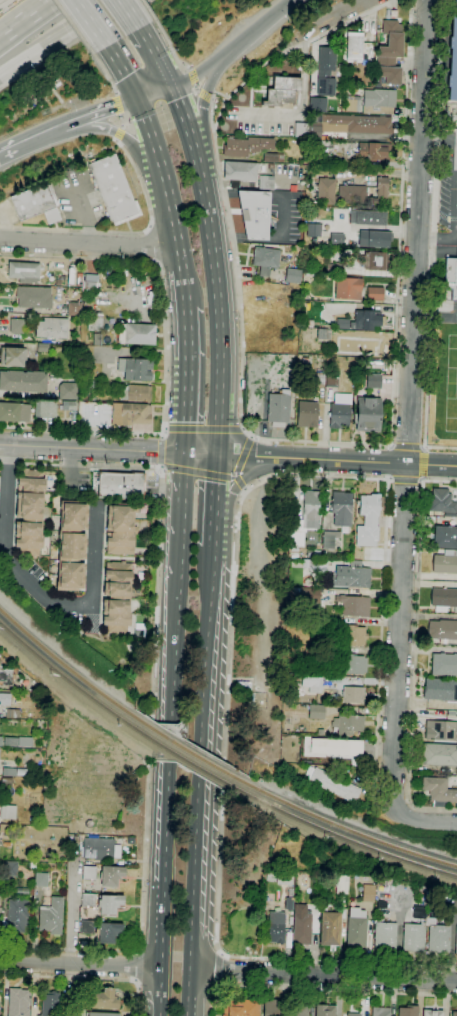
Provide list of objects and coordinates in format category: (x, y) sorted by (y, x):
road: (147, 9)
road: (130, 12)
road: (333, 14)
road: (26, 18)
road: (268, 18)
road: (349, 22)
road: (89, 23)
road: (73, 26)
road: (145, 34)
road: (62, 36)
road: (167, 44)
building: (354, 46)
building: (390, 53)
building: (453, 55)
road: (210, 63)
road: (161, 64)
road: (187, 69)
road: (122, 71)
road: (103, 72)
building: (325, 72)
road: (191, 77)
road: (211, 79)
traffic signals: (172, 86)
road: (196, 87)
building: (282, 91)
road: (154, 92)
road: (115, 93)
road: (204, 93)
road: (212, 97)
traffic signals: (137, 98)
building: (379, 101)
road: (117, 104)
building: (353, 104)
building: (318, 105)
road: (108, 107)
road: (180, 107)
road: (438, 119)
road: (73, 122)
road: (120, 122)
building: (349, 125)
building: (301, 130)
road: (118, 133)
road: (123, 137)
road: (31, 138)
road: (439, 138)
road: (116, 140)
building: (246, 146)
building: (373, 151)
building: (272, 158)
building: (240, 171)
building: (265, 183)
building: (113, 190)
parking lot: (447, 191)
building: (351, 193)
road: (168, 197)
building: (36, 203)
building: (254, 214)
building: (367, 217)
road: (444, 217)
road: (401, 223)
building: (314, 230)
road: (122, 232)
building: (336, 239)
building: (374, 239)
road: (436, 239)
road: (88, 243)
building: (265, 260)
building: (374, 261)
building: (334, 268)
building: (24, 272)
building: (293, 276)
building: (451, 277)
road: (237, 281)
building: (90, 282)
building: (348, 289)
road: (217, 290)
building: (375, 294)
building: (34, 297)
building: (73, 309)
building: (95, 315)
building: (367, 320)
building: (93, 323)
building: (342, 324)
building: (16, 326)
building: (51, 328)
building: (137, 334)
building: (314, 335)
road: (428, 345)
building: (364, 346)
building: (42, 347)
road: (165, 351)
building: (12, 357)
building: (135, 370)
road: (186, 376)
building: (318, 380)
building: (331, 380)
building: (23, 381)
building: (373, 381)
park: (448, 383)
building: (67, 391)
building: (135, 393)
road: (409, 406)
building: (69, 409)
building: (45, 410)
building: (277, 410)
building: (14, 412)
building: (130, 414)
building: (307, 415)
building: (368, 415)
building: (339, 416)
road: (166, 429)
road: (205, 429)
road: (244, 430)
road: (161, 435)
road: (252, 437)
road: (392, 446)
road: (407, 446)
road: (93, 448)
road: (438, 449)
road: (161, 450)
traffic signals: (188, 453)
traffic signals: (220, 455)
road: (243, 457)
road: (322, 459)
road: (81, 464)
road: (422, 464)
road: (162, 466)
road: (164, 469)
road: (199, 476)
road: (422, 478)
road: (241, 479)
road: (390, 479)
road: (405, 479)
road: (420, 480)
road: (439, 481)
road: (239, 482)
building: (120, 485)
road: (218, 487)
road: (245, 489)
building: (441, 502)
building: (369, 505)
building: (341, 508)
building: (311, 509)
building: (29, 513)
road: (183, 522)
building: (120, 529)
road: (216, 531)
building: (367, 532)
building: (445, 537)
building: (296, 539)
building: (329, 539)
building: (71, 546)
building: (445, 563)
building: (314, 566)
building: (351, 577)
road: (39, 590)
building: (303, 595)
building: (116, 597)
building: (444, 598)
building: (353, 606)
building: (318, 612)
road: (381, 623)
building: (317, 624)
building: (442, 630)
building: (353, 635)
road: (211, 647)
building: (316, 653)
road: (175, 657)
building: (444, 664)
building: (353, 665)
road: (413, 666)
railway: (71, 671)
building: (6, 677)
railway: (71, 682)
building: (312, 684)
building: (440, 690)
building: (352, 695)
building: (5, 699)
building: (315, 711)
building: (12, 713)
building: (347, 724)
building: (440, 730)
building: (319, 732)
building: (0, 741)
building: (18, 742)
road: (169, 742)
building: (335, 747)
railway: (187, 749)
building: (439, 755)
railway: (186, 760)
road: (205, 767)
road: (222, 767)
building: (8, 772)
road: (149, 779)
building: (6, 782)
building: (333, 785)
building: (438, 790)
building: (7, 812)
road: (416, 819)
road: (447, 823)
railway: (338, 826)
building: (5, 828)
railway: (338, 835)
building: (93, 847)
building: (10, 869)
building: (89, 873)
building: (111, 876)
building: (284, 878)
building: (41, 879)
building: (382, 882)
building: (342, 884)
road: (161, 889)
building: (21, 891)
park: (251, 893)
building: (368, 894)
road: (199, 899)
building: (289, 899)
building: (87, 900)
building: (109, 904)
road: (70, 905)
building: (0, 910)
building: (17, 916)
building: (51, 916)
building: (301, 925)
building: (275, 927)
building: (329, 928)
building: (355, 928)
building: (101, 930)
building: (384, 937)
building: (413, 937)
building: (438, 939)
building: (456, 942)
road: (79, 964)
road: (132, 966)
road: (224, 969)
road: (326, 975)
road: (85, 978)
road: (321, 988)
building: (103, 999)
building: (18, 1002)
building: (50, 1004)
building: (241, 1007)
building: (272, 1008)
building: (298, 1010)
building: (324, 1010)
building: (381, 1011)
building: (408, 1011)
building: (72, 1013)
building: (432, 1013)
building: (101, 1014)
building: (352, 1014)
building: (454, 1014)

